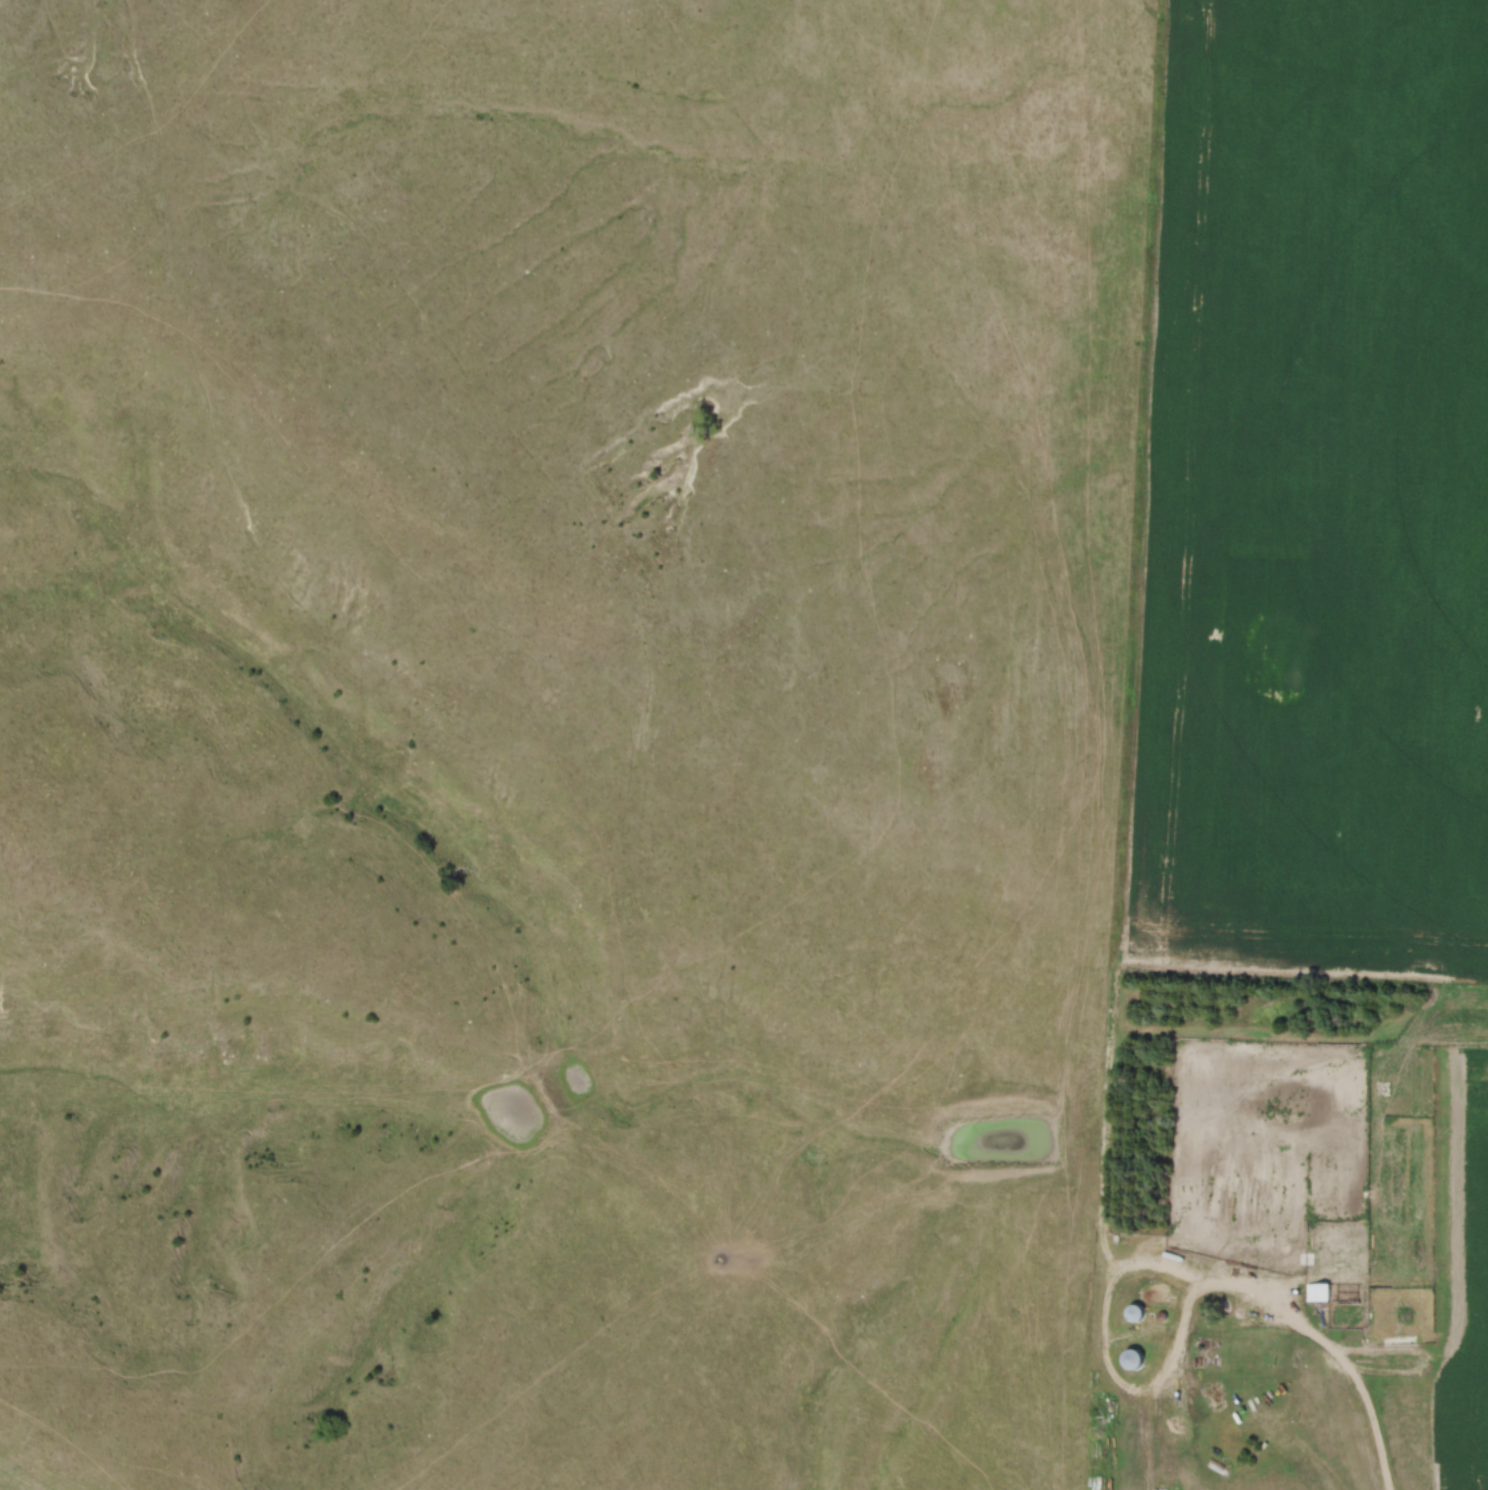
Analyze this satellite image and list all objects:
building: (1318, 1293)
building: (1135, 1312)
building: (1132, 1359)
road: (1371, 1404)

